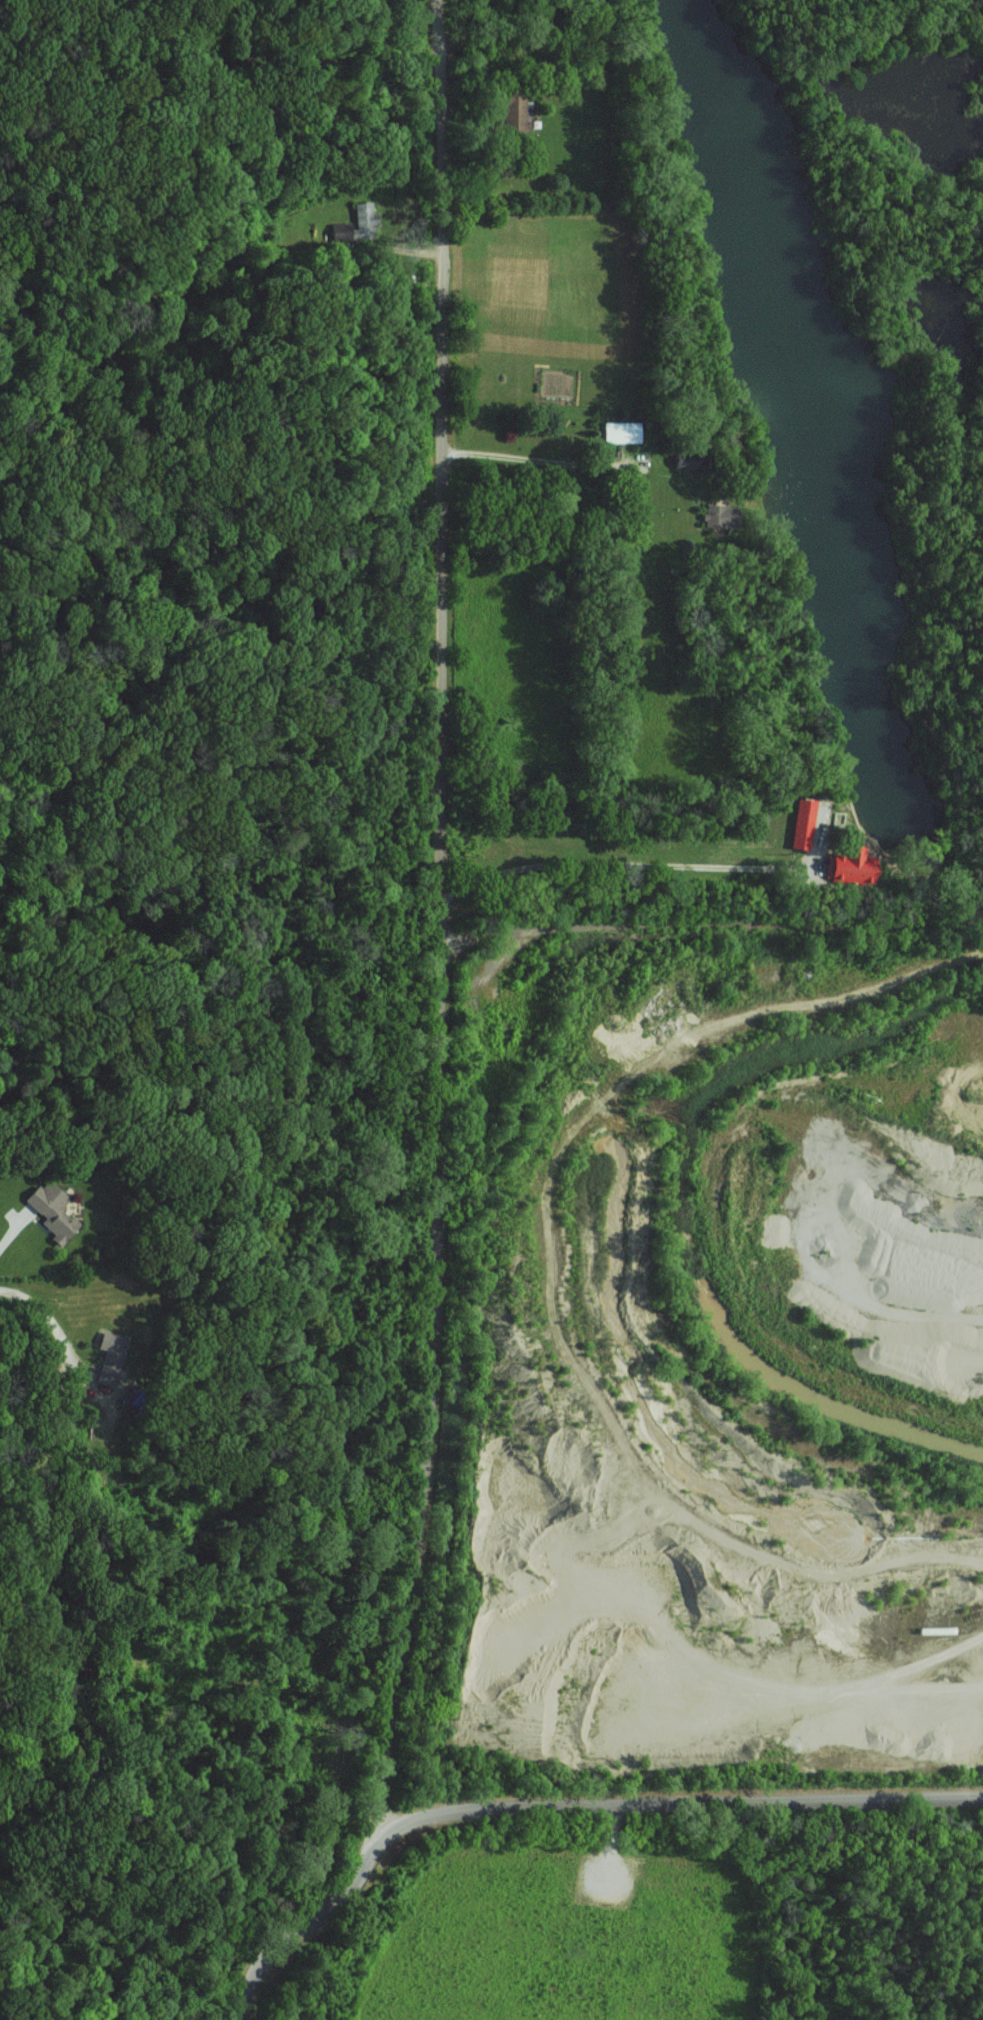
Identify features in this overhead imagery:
building: (514, 113)
building: (355, 224)
building: (619, 431)
road: (532, 460)
building: (716, 515)
building: (800, 823)
road: (626, 863)
building: (849, 866)
road: (439, 1033)
building: (50, 1210)
road: (15, 1221)
road: (48, 1320)
building: (107, 1358)
road: (676, 1799)

